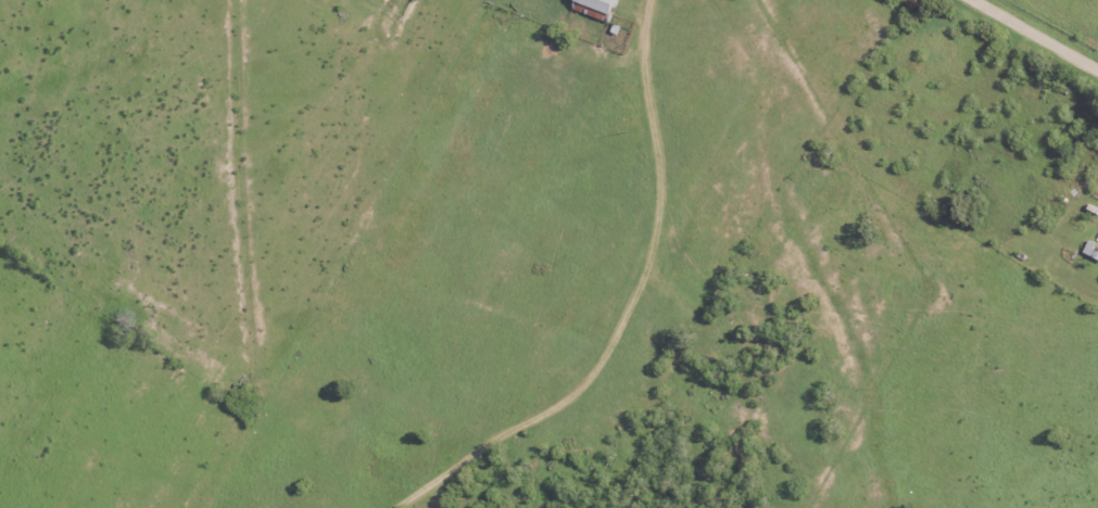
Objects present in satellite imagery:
building: (593, 8)
road: (1039, 33)
building: (1090, 251)

